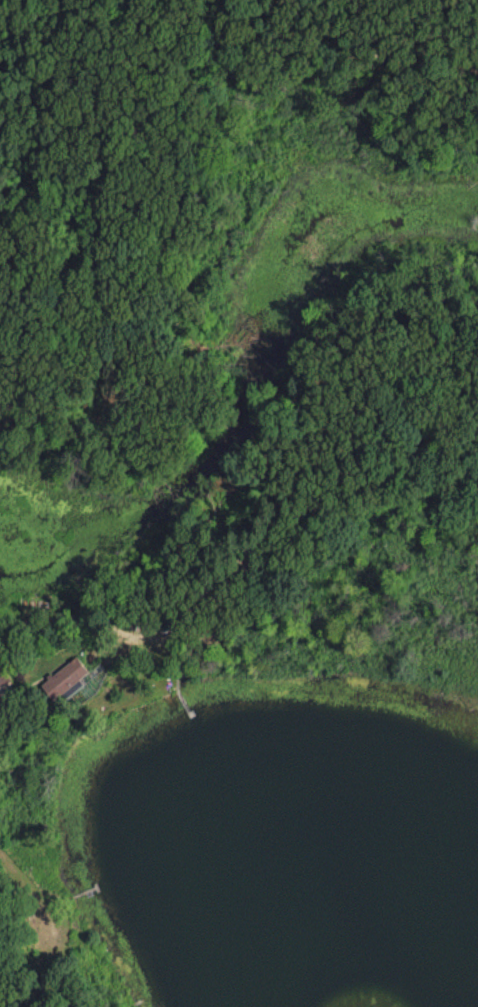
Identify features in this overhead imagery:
road: (341, 27)
road: (104, 35)
park: (239, 328)
building: (3, 674)
building: (65, 677)
pier: (186, 706)

